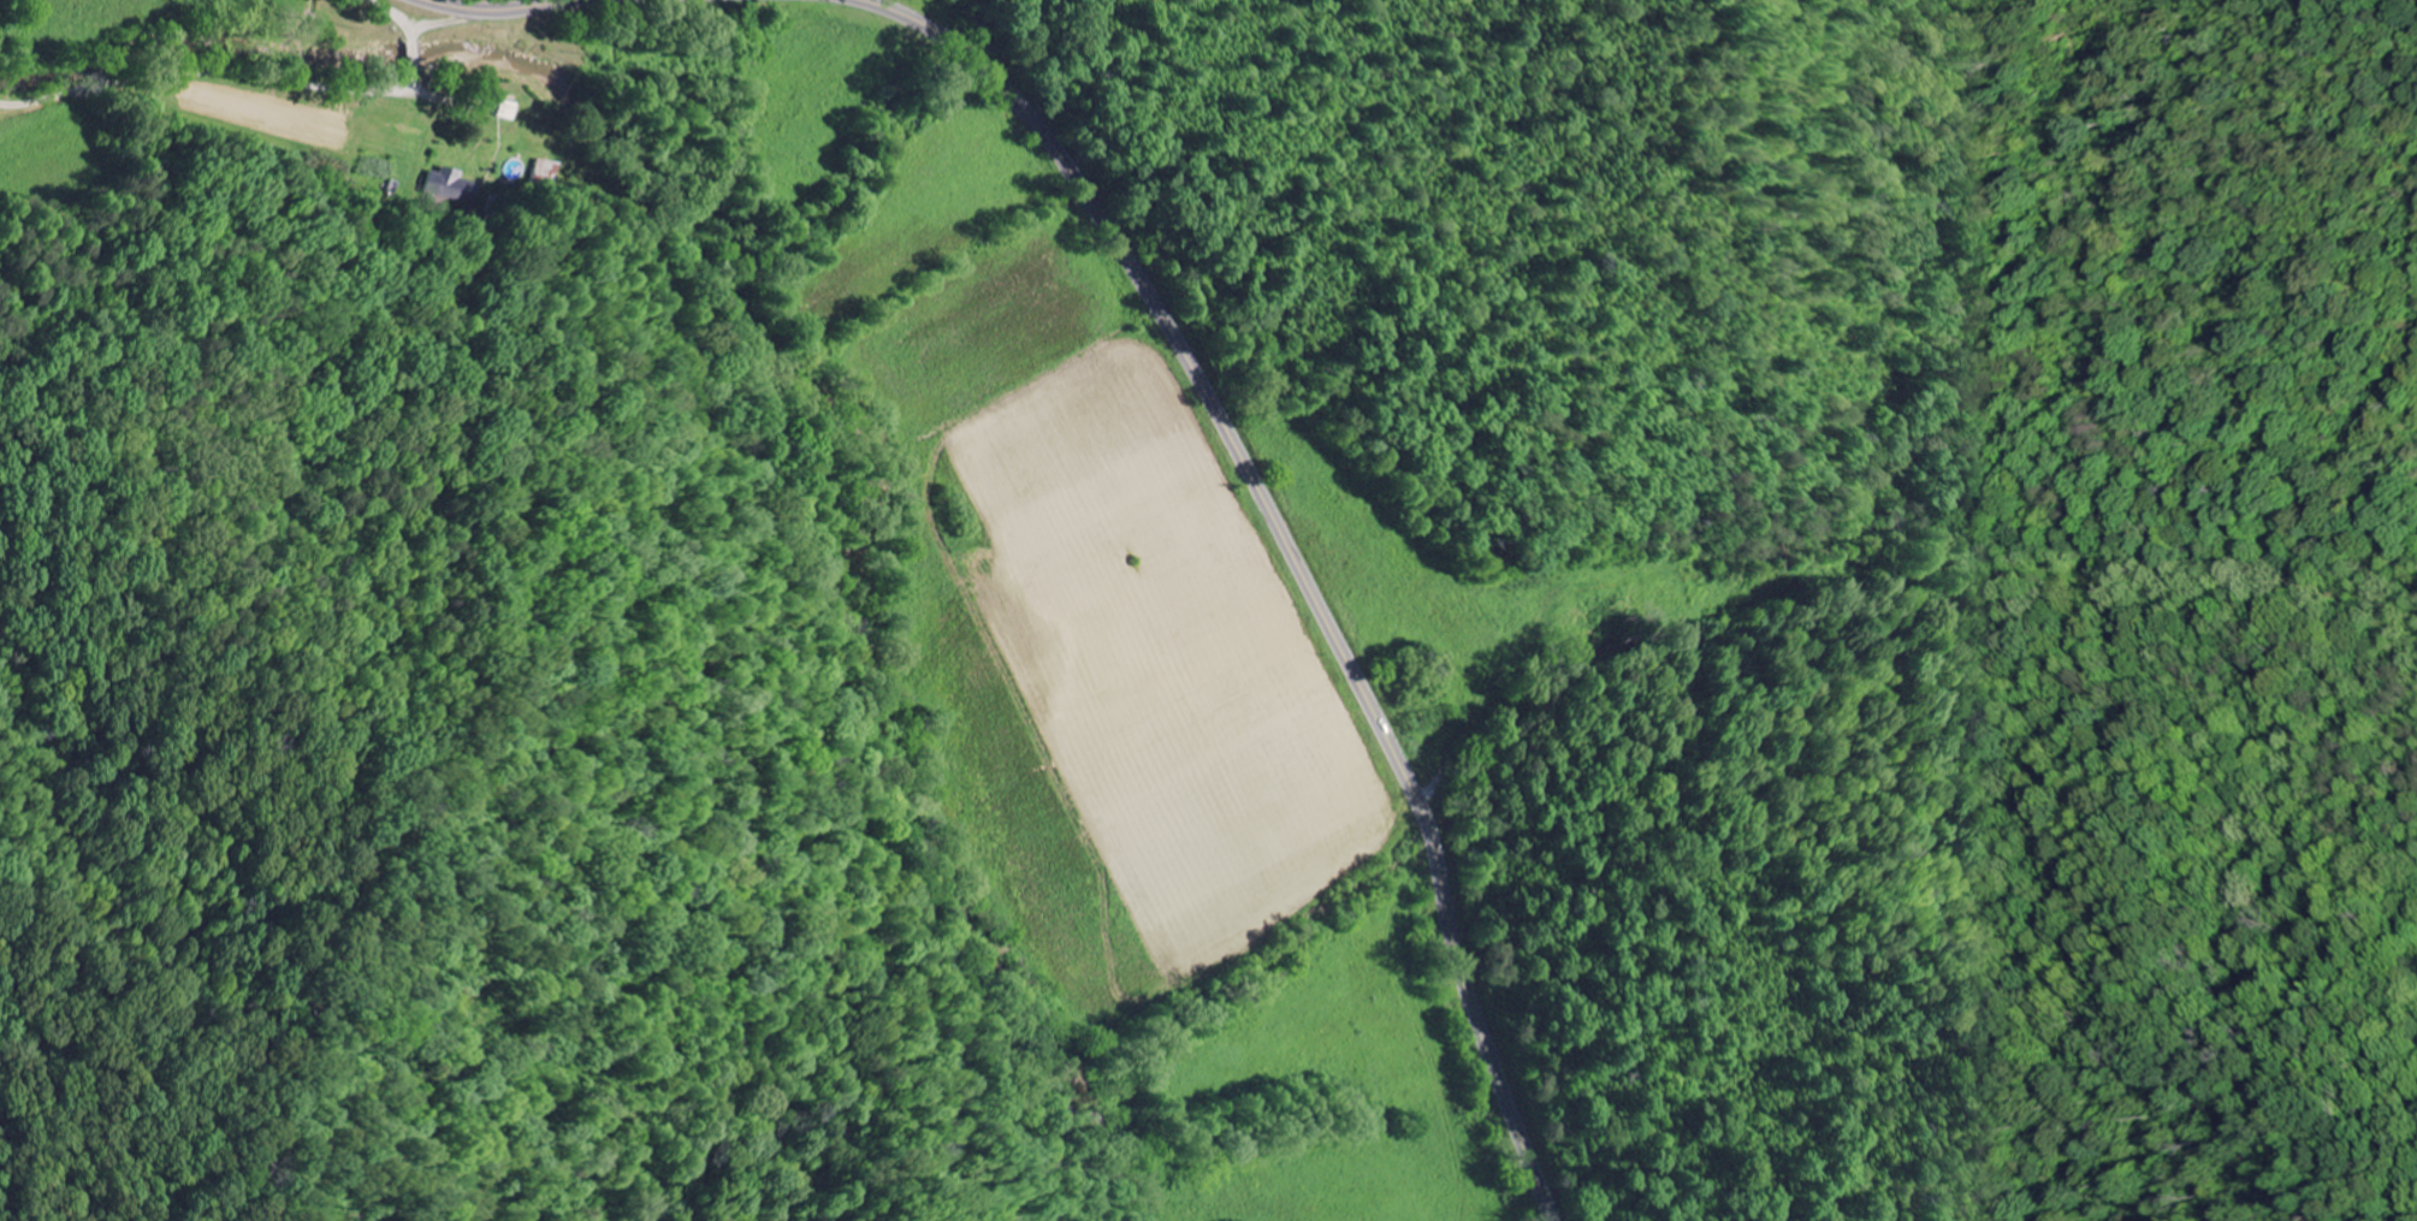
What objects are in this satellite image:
road: (503, 10)
road: (279, 75)
road: (1293, 553)

